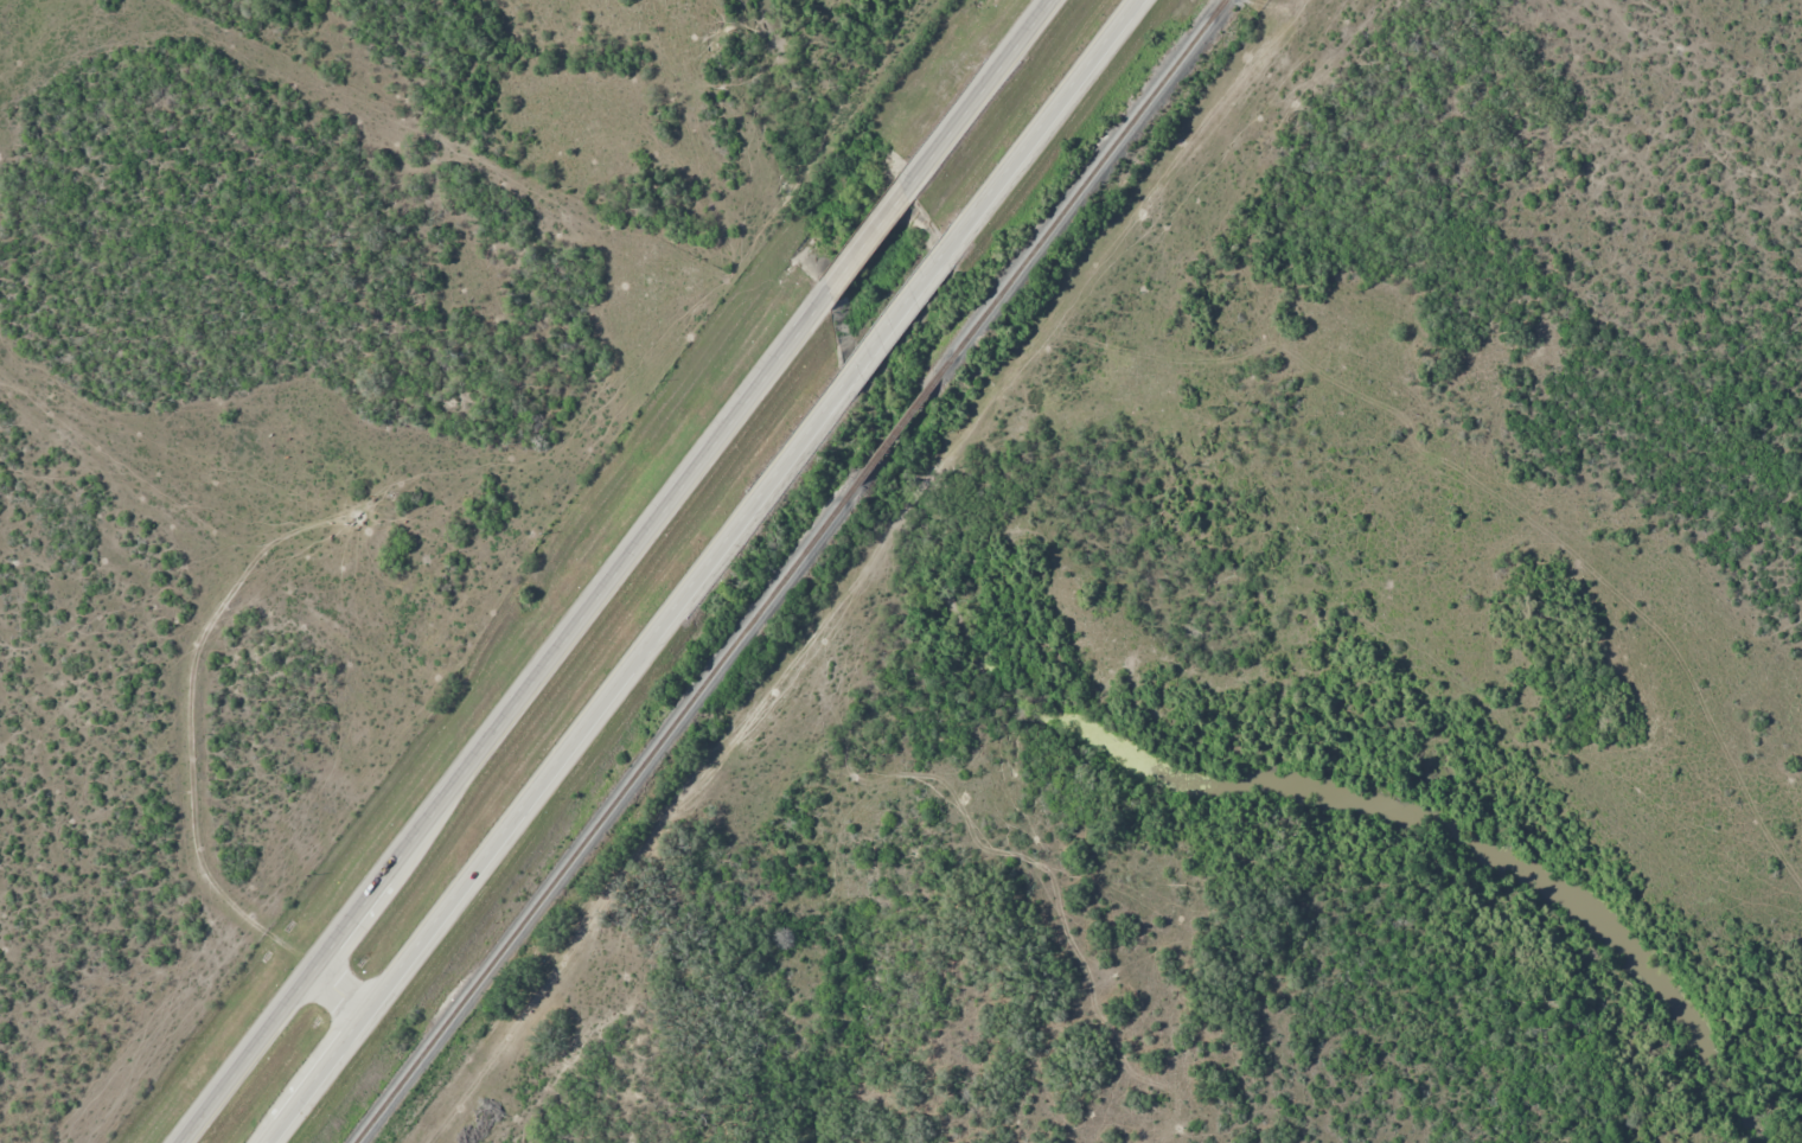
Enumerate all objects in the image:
road: (613, 570)
railway: (793, 570)
road: (709, 573)

